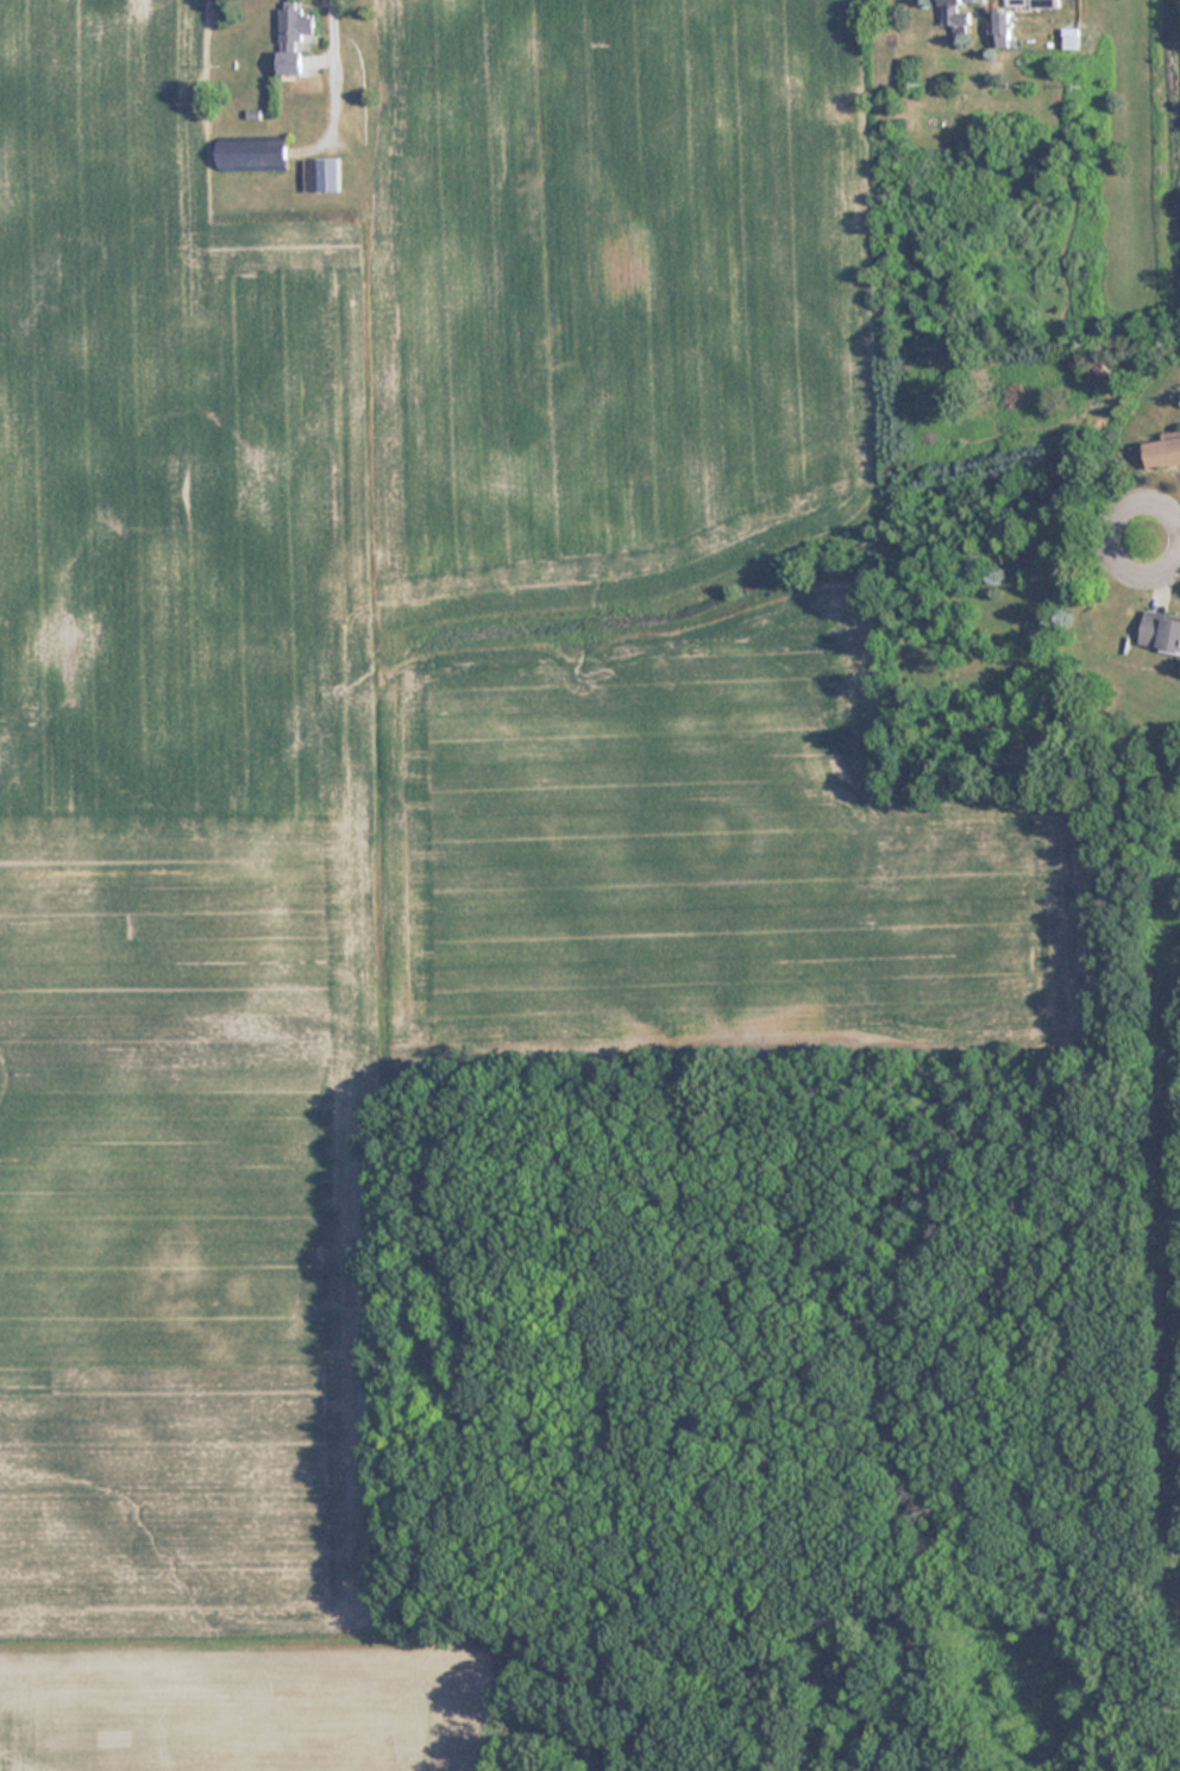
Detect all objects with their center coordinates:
building: (974, 0)
building: (1032, 2)
building: (954, 14)
road: (327, 26)
building: (293, 38)
building: (251, 155)
building: (321, 175)
building: (1163, 453)
road: (1146, 542)
building: (1161, 632)

